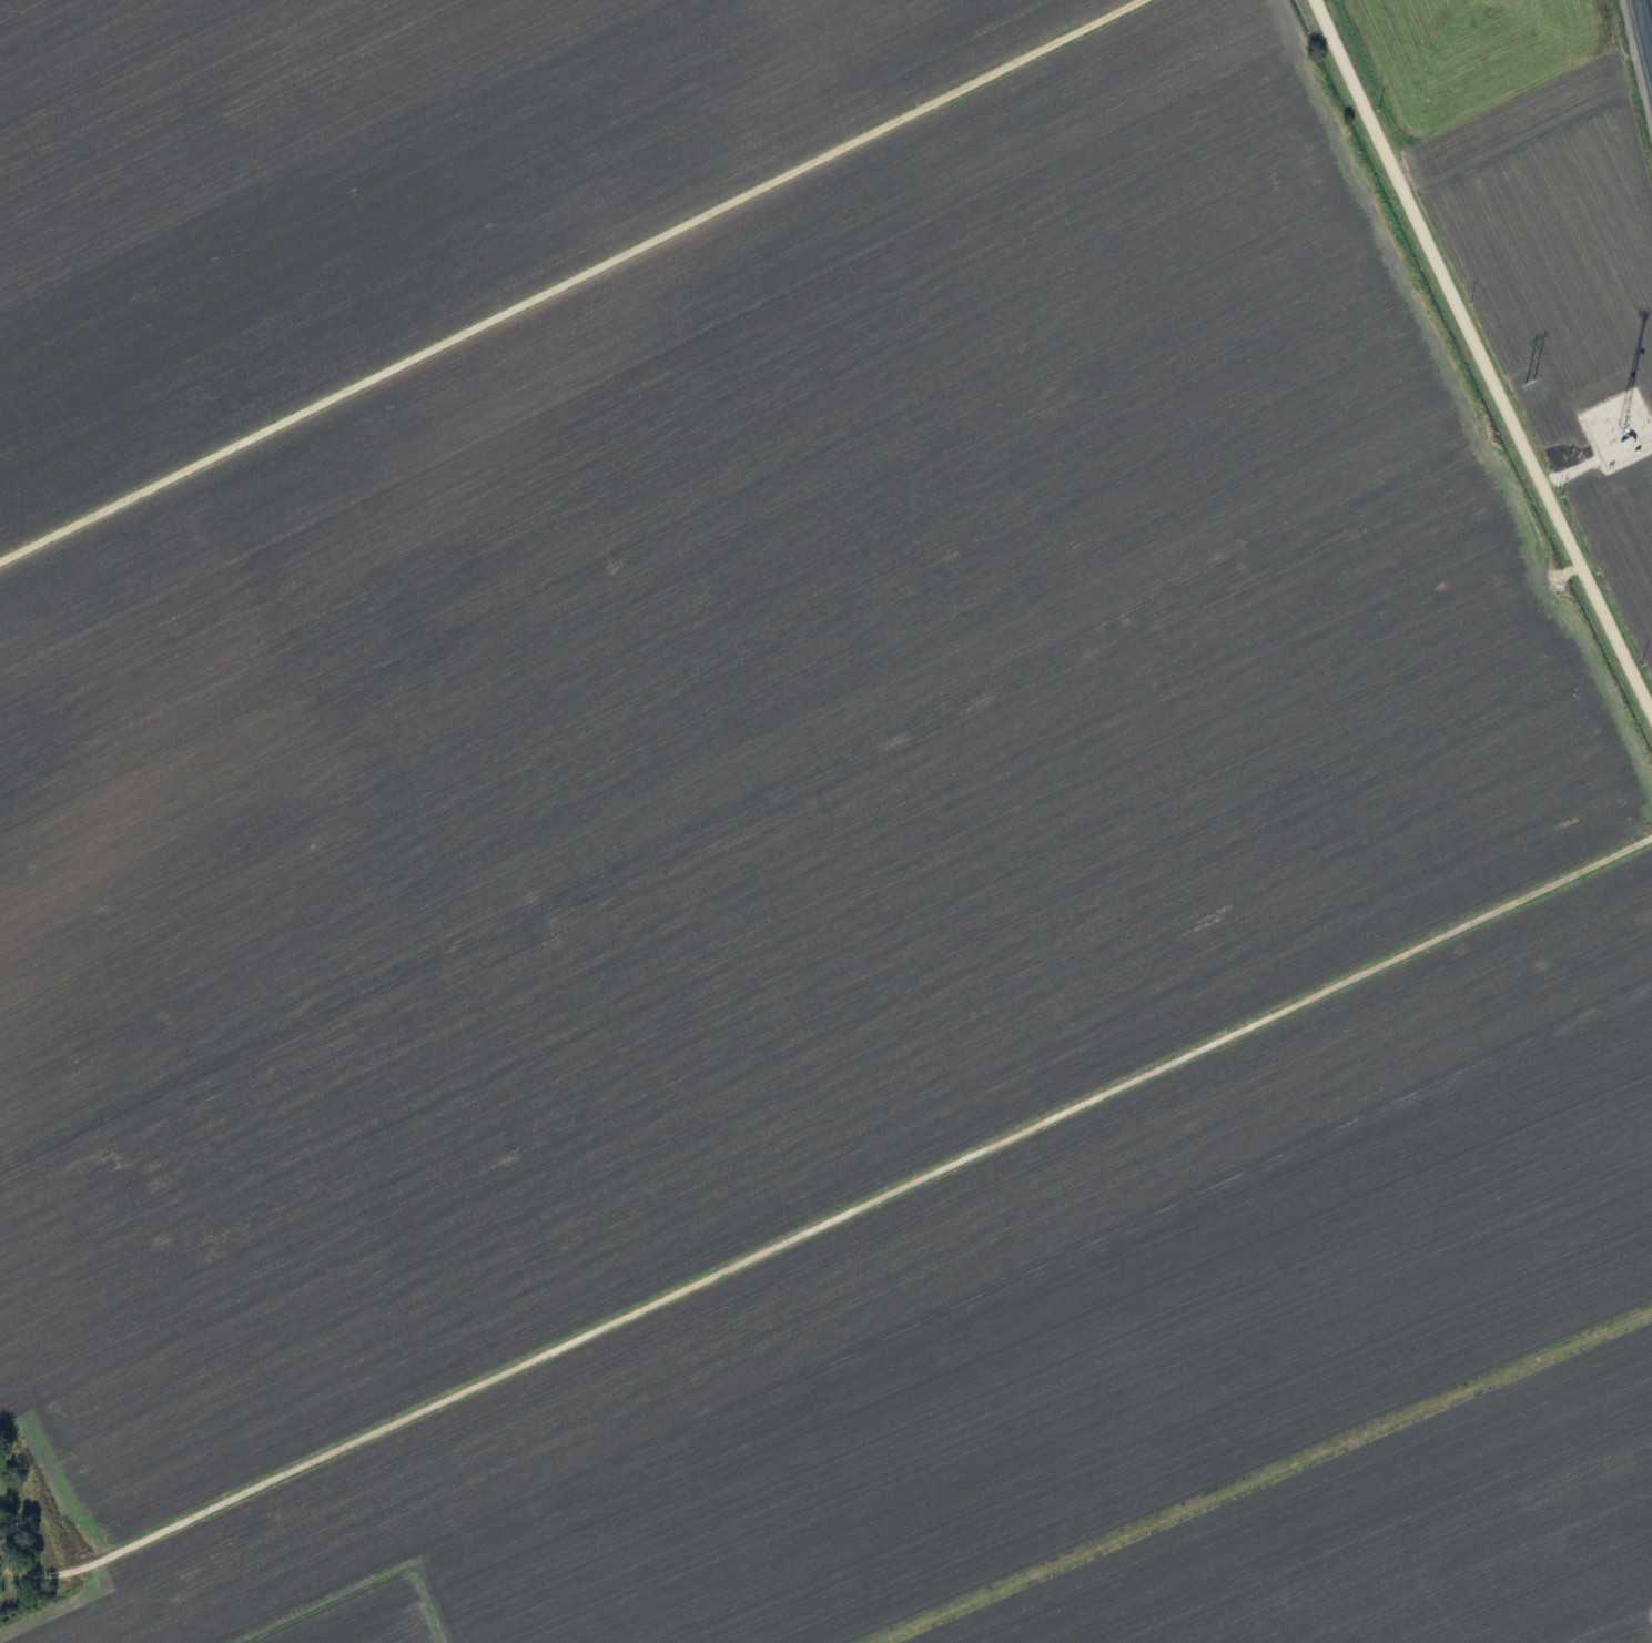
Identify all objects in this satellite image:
road: (1645, 29)
road: (568, 278)
road: (1483, 353)
power tower: (1530, 381)
building: (1628, 443)
road: (828, 1218)
road: (1258, 1474)
building: (6, 1538)

